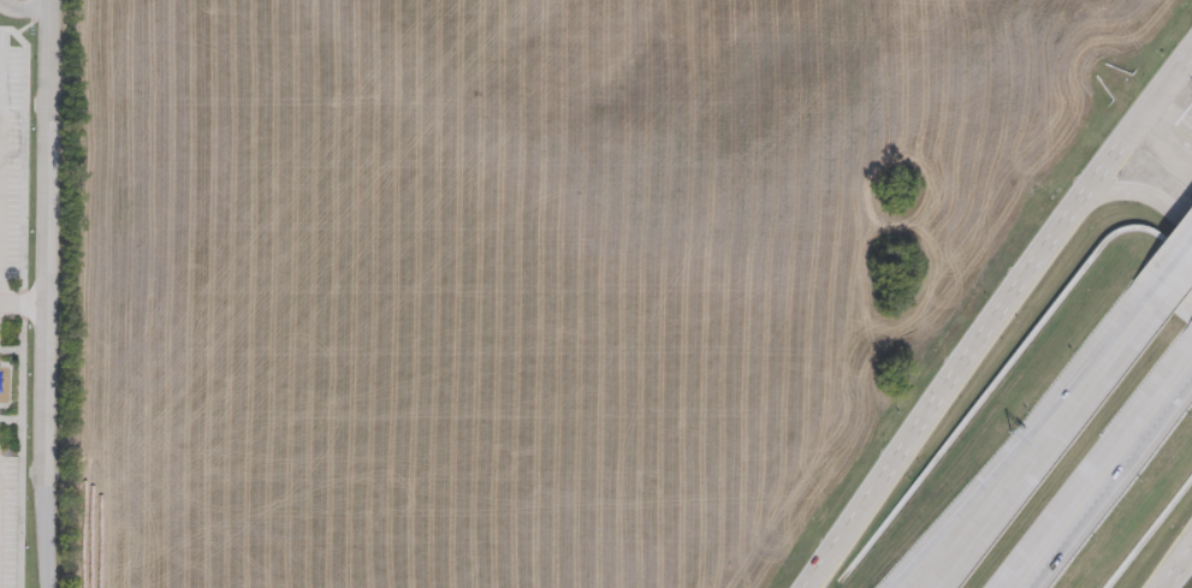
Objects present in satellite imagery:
crop: (1152, 12)
road: (23, 13)
road: (1182, 101)
road: (1167, 152)
parking lot: (8, 160)
road: (0, 180)
road: (1139, 195)
crop: (505, 277)
road: (1175, 281)
park: (13, 285)
road: (52, 293)
road: (19, 303)
road: (25, 309)
road: (1002, 326)
road: (1131, 340)
road: (1167, 408)
road: (1002, 482)
road: (1090, 513)
road: (1181, 563)
road: (1182, 576)

